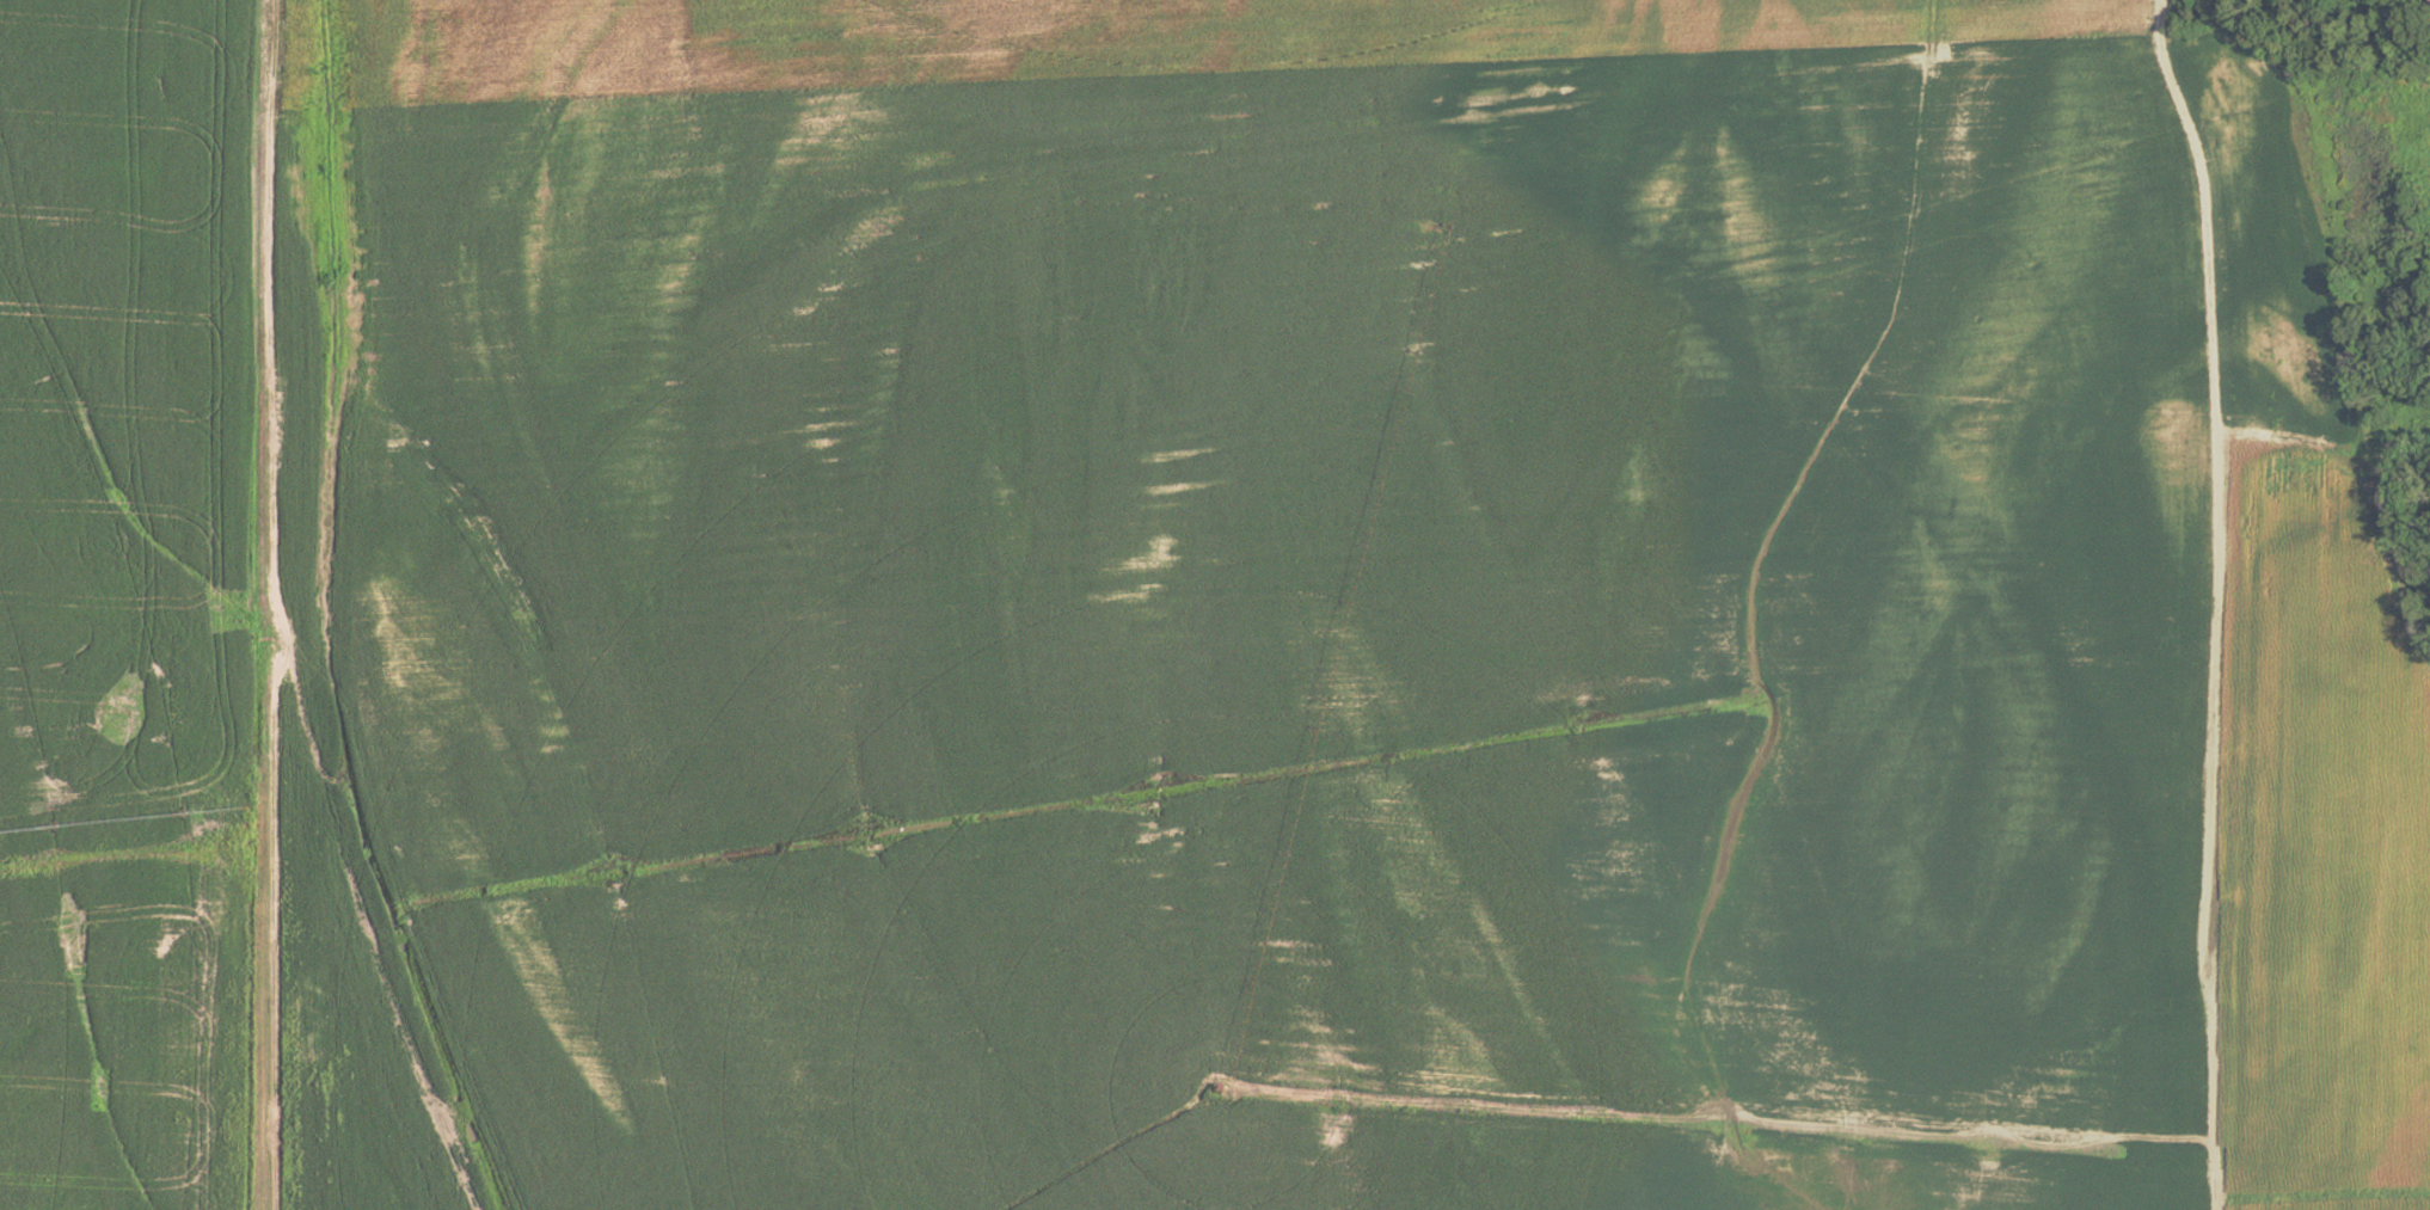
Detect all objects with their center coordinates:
building: (2426, 6)

